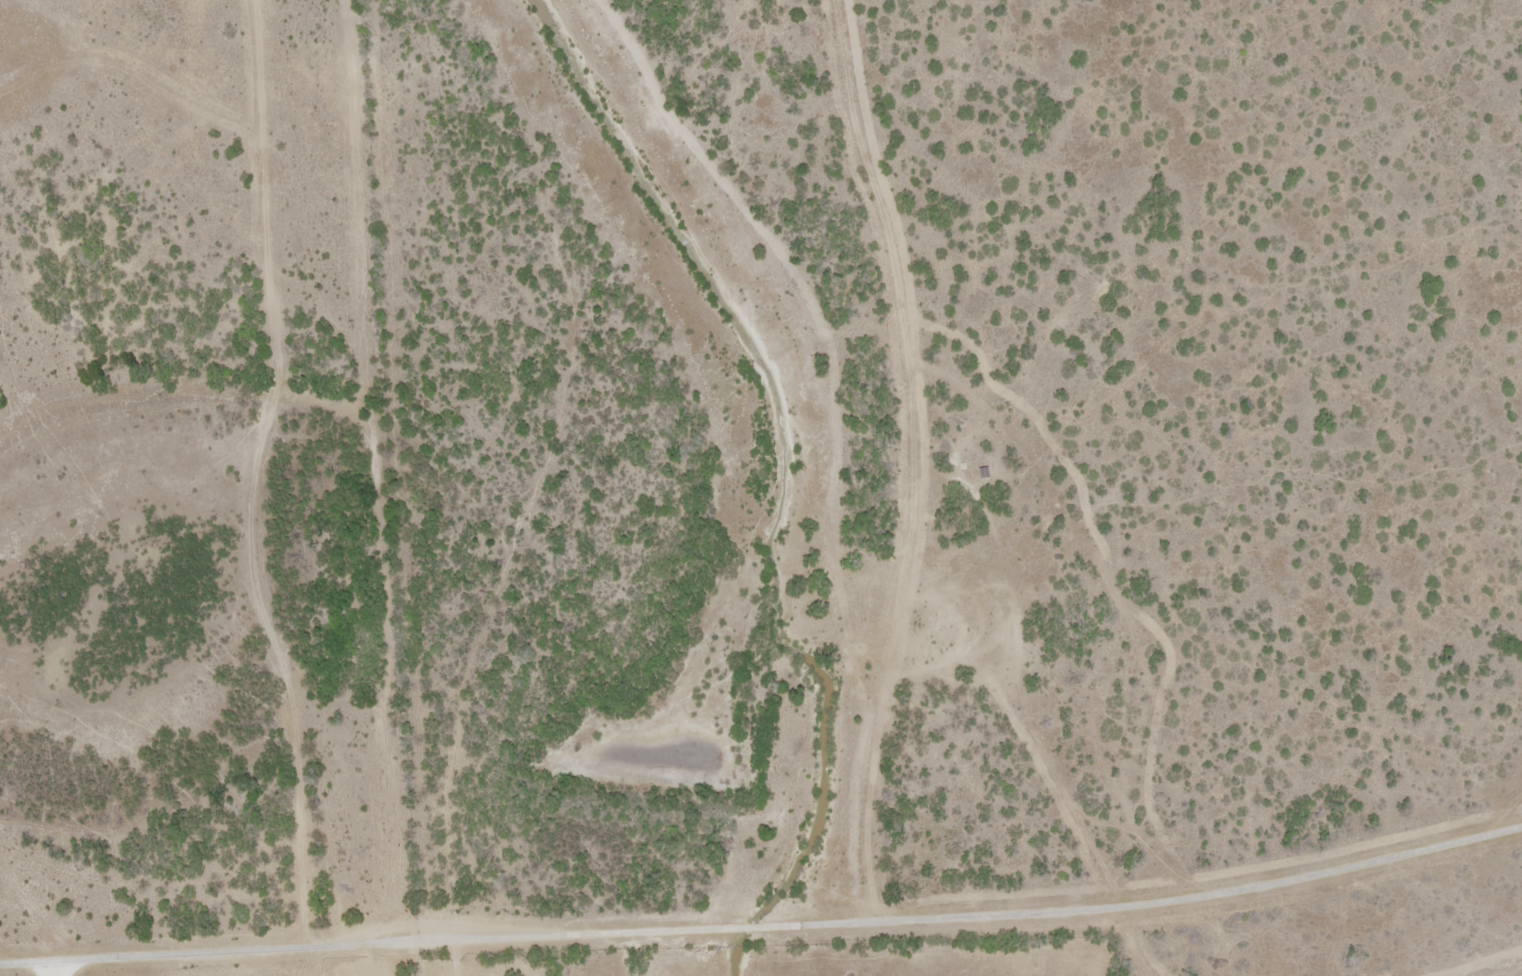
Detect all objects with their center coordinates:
road: (835, 925)

